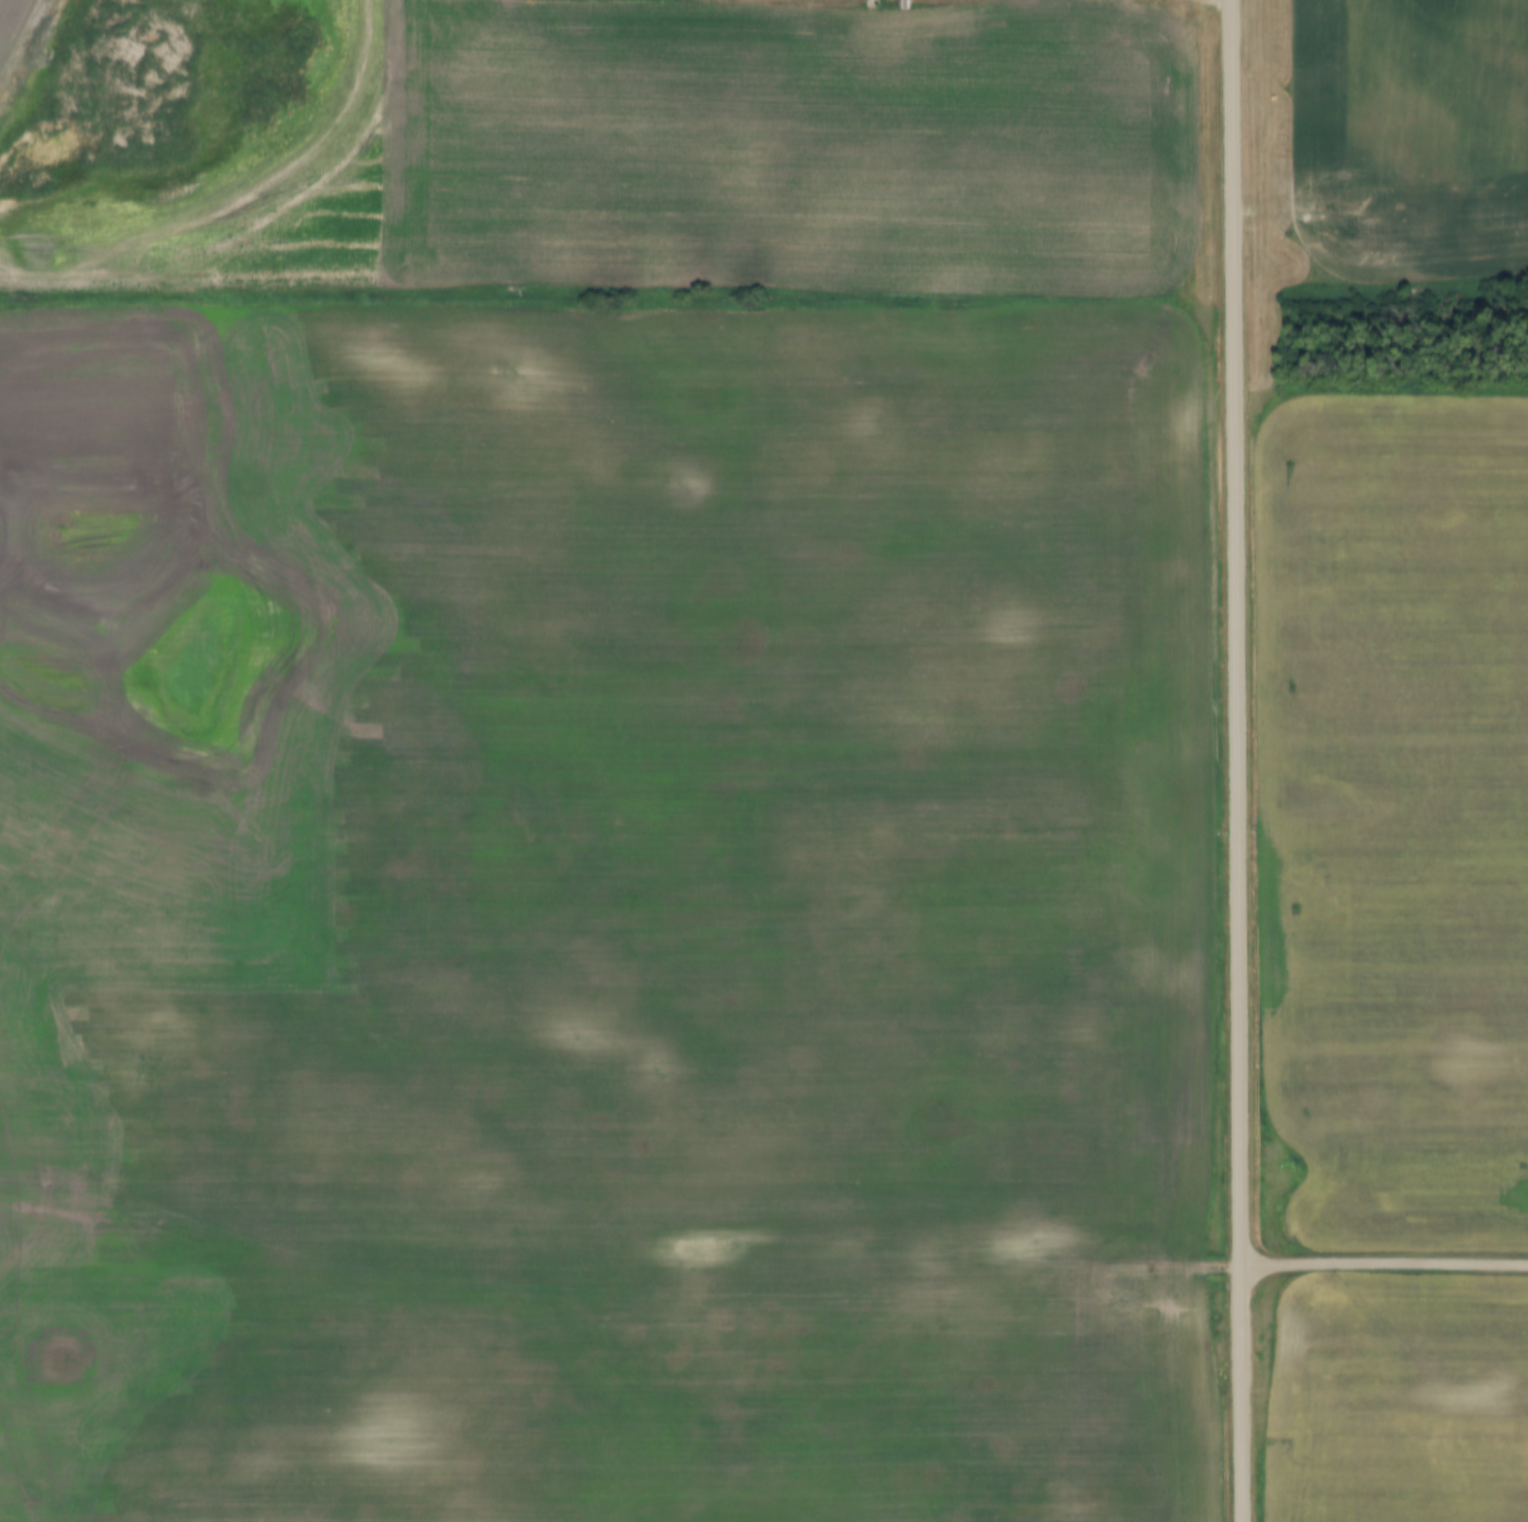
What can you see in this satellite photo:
road: (1237, 761)
road: (1384, 1267)

